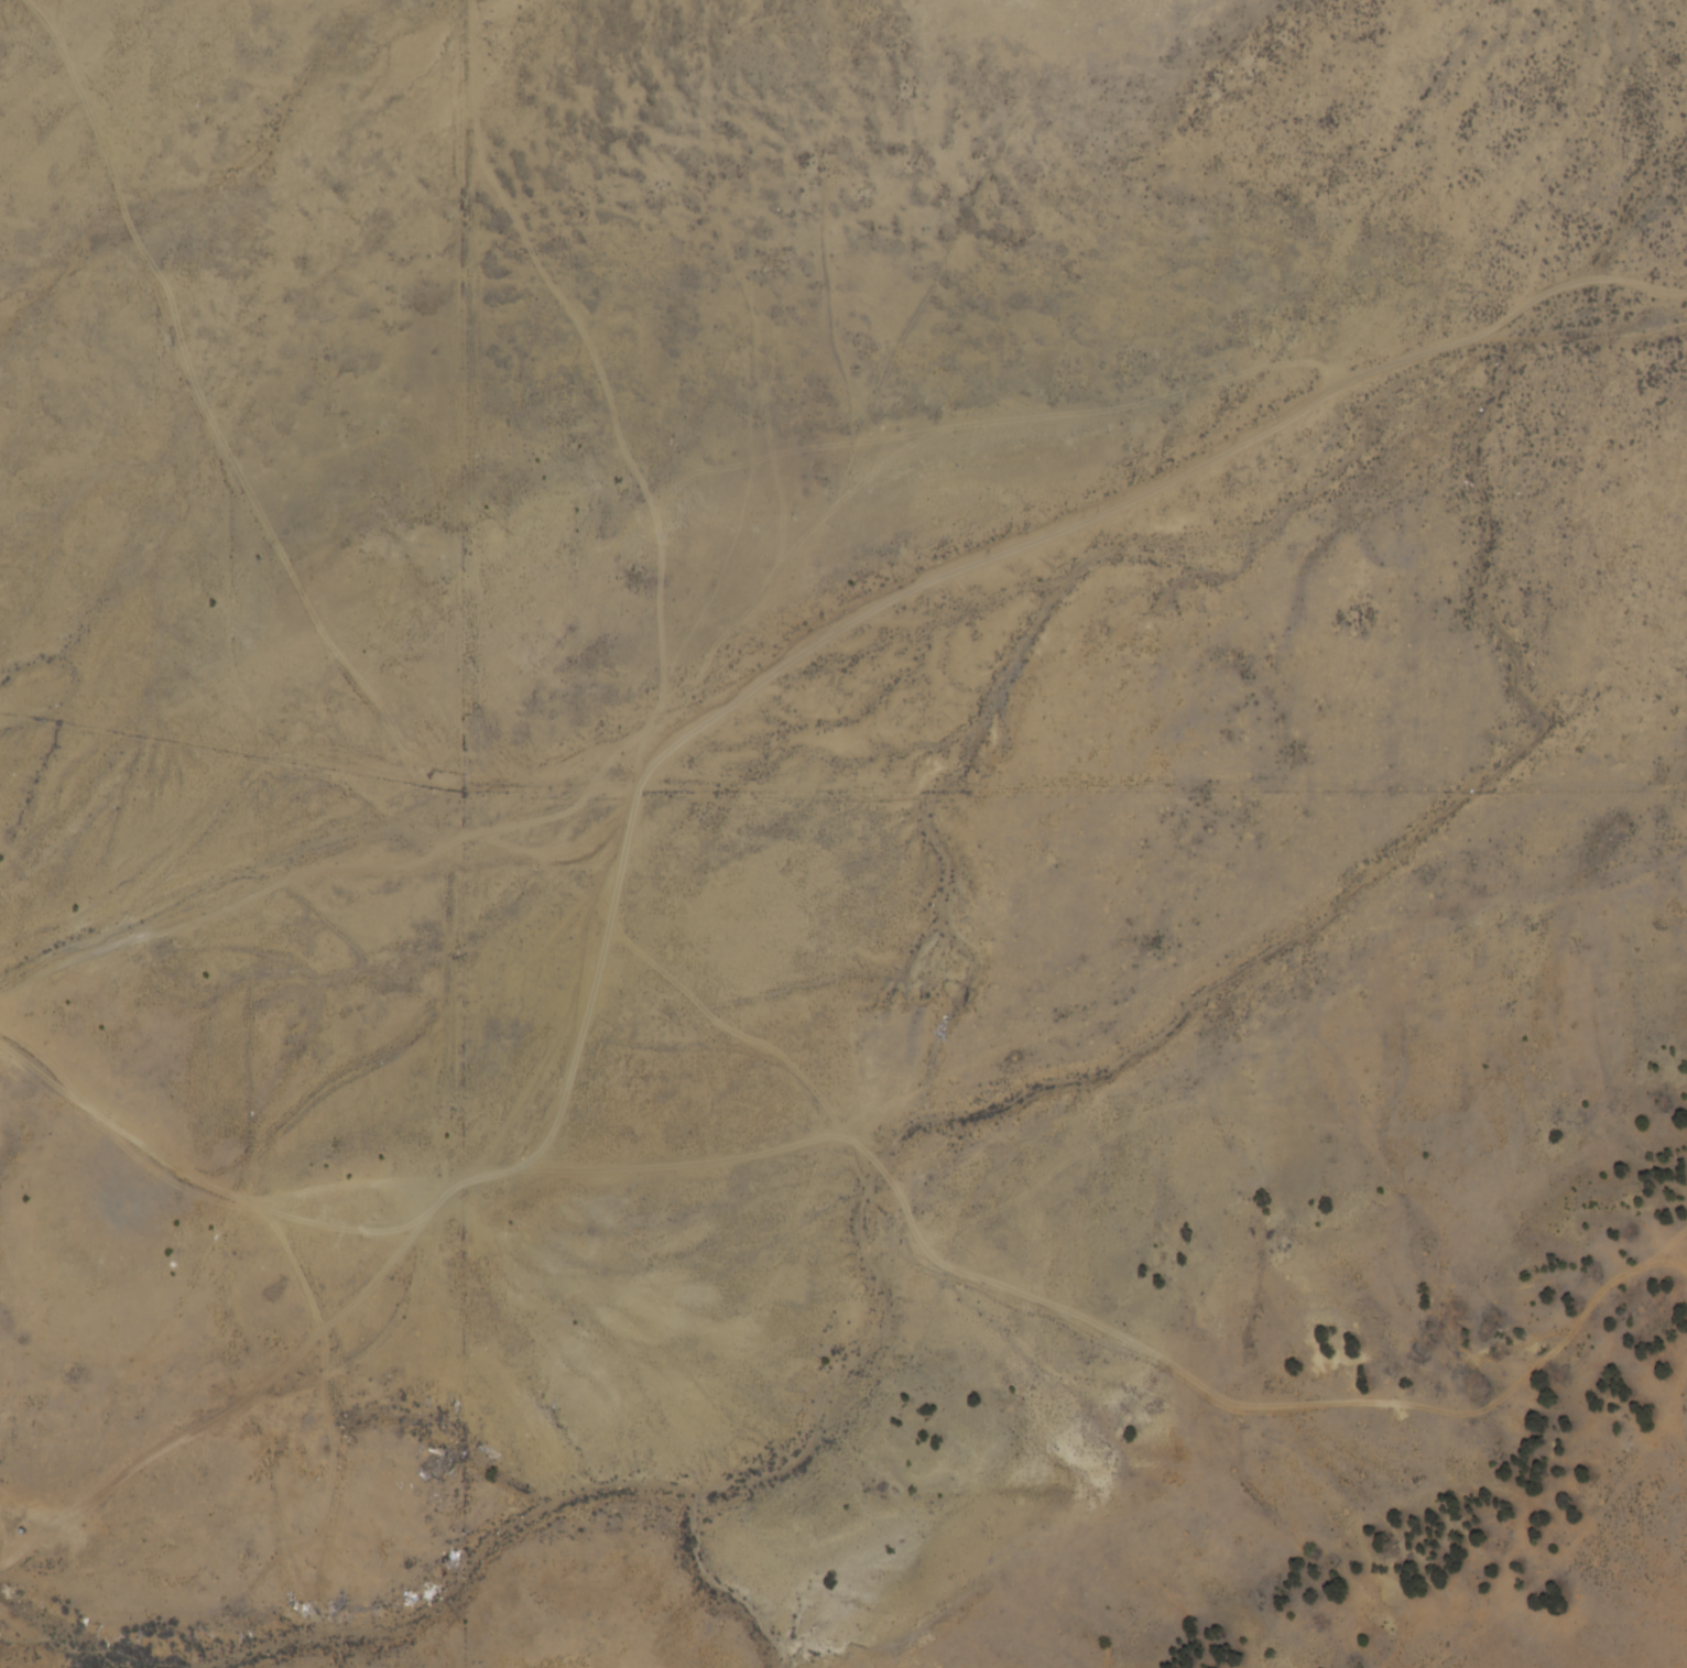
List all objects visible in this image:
road: (940, 651)

